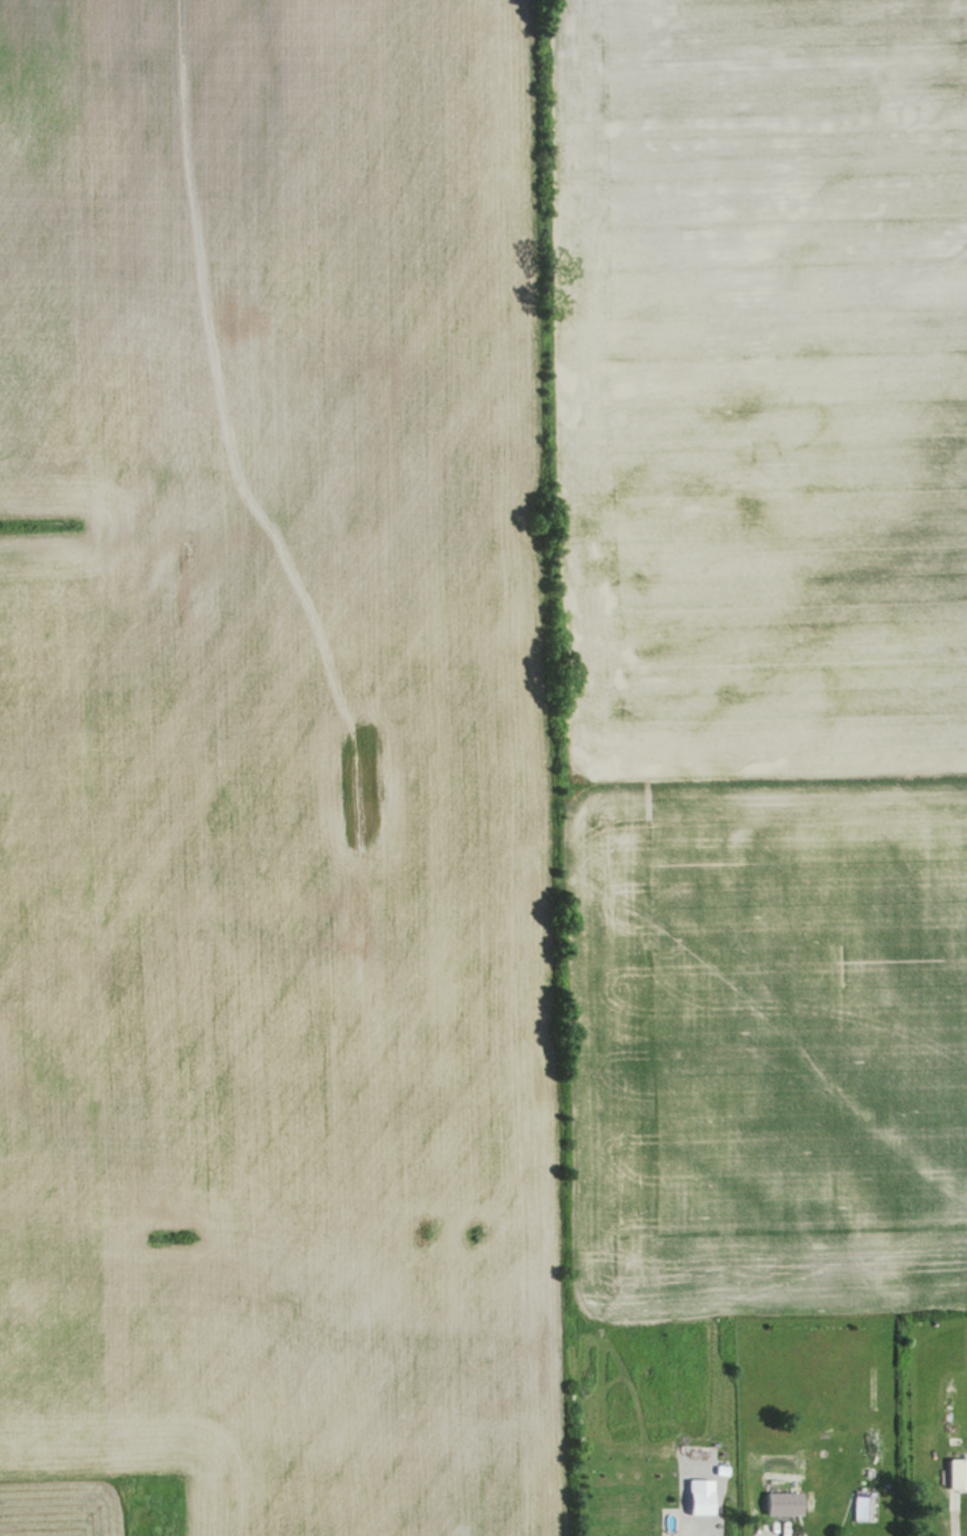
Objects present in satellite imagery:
building: (954, 1475)
building: (695, 1503)
building: (777, 1505)

